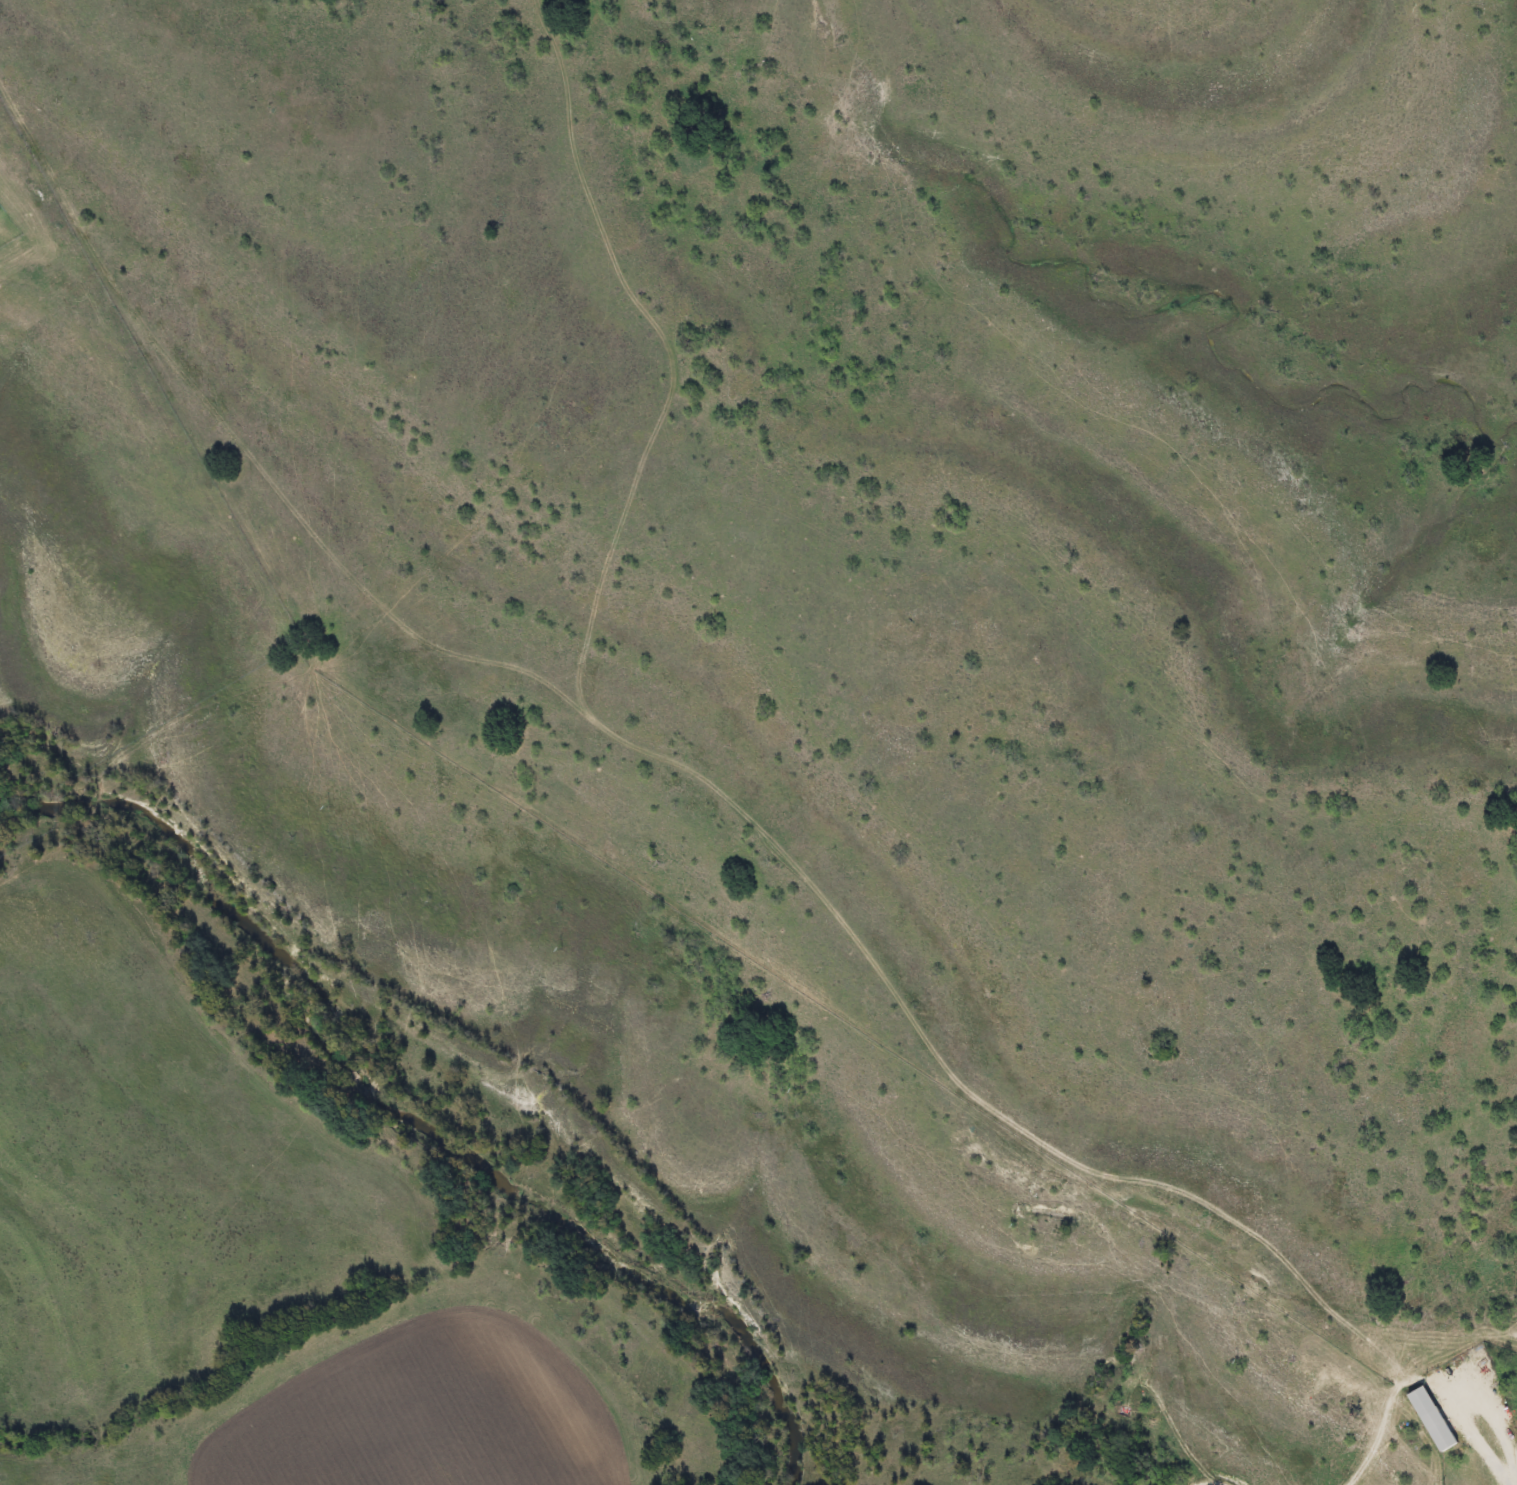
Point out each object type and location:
road: (1495, 1403)
building: (1432, 1419)
road: (1214, 1478)

